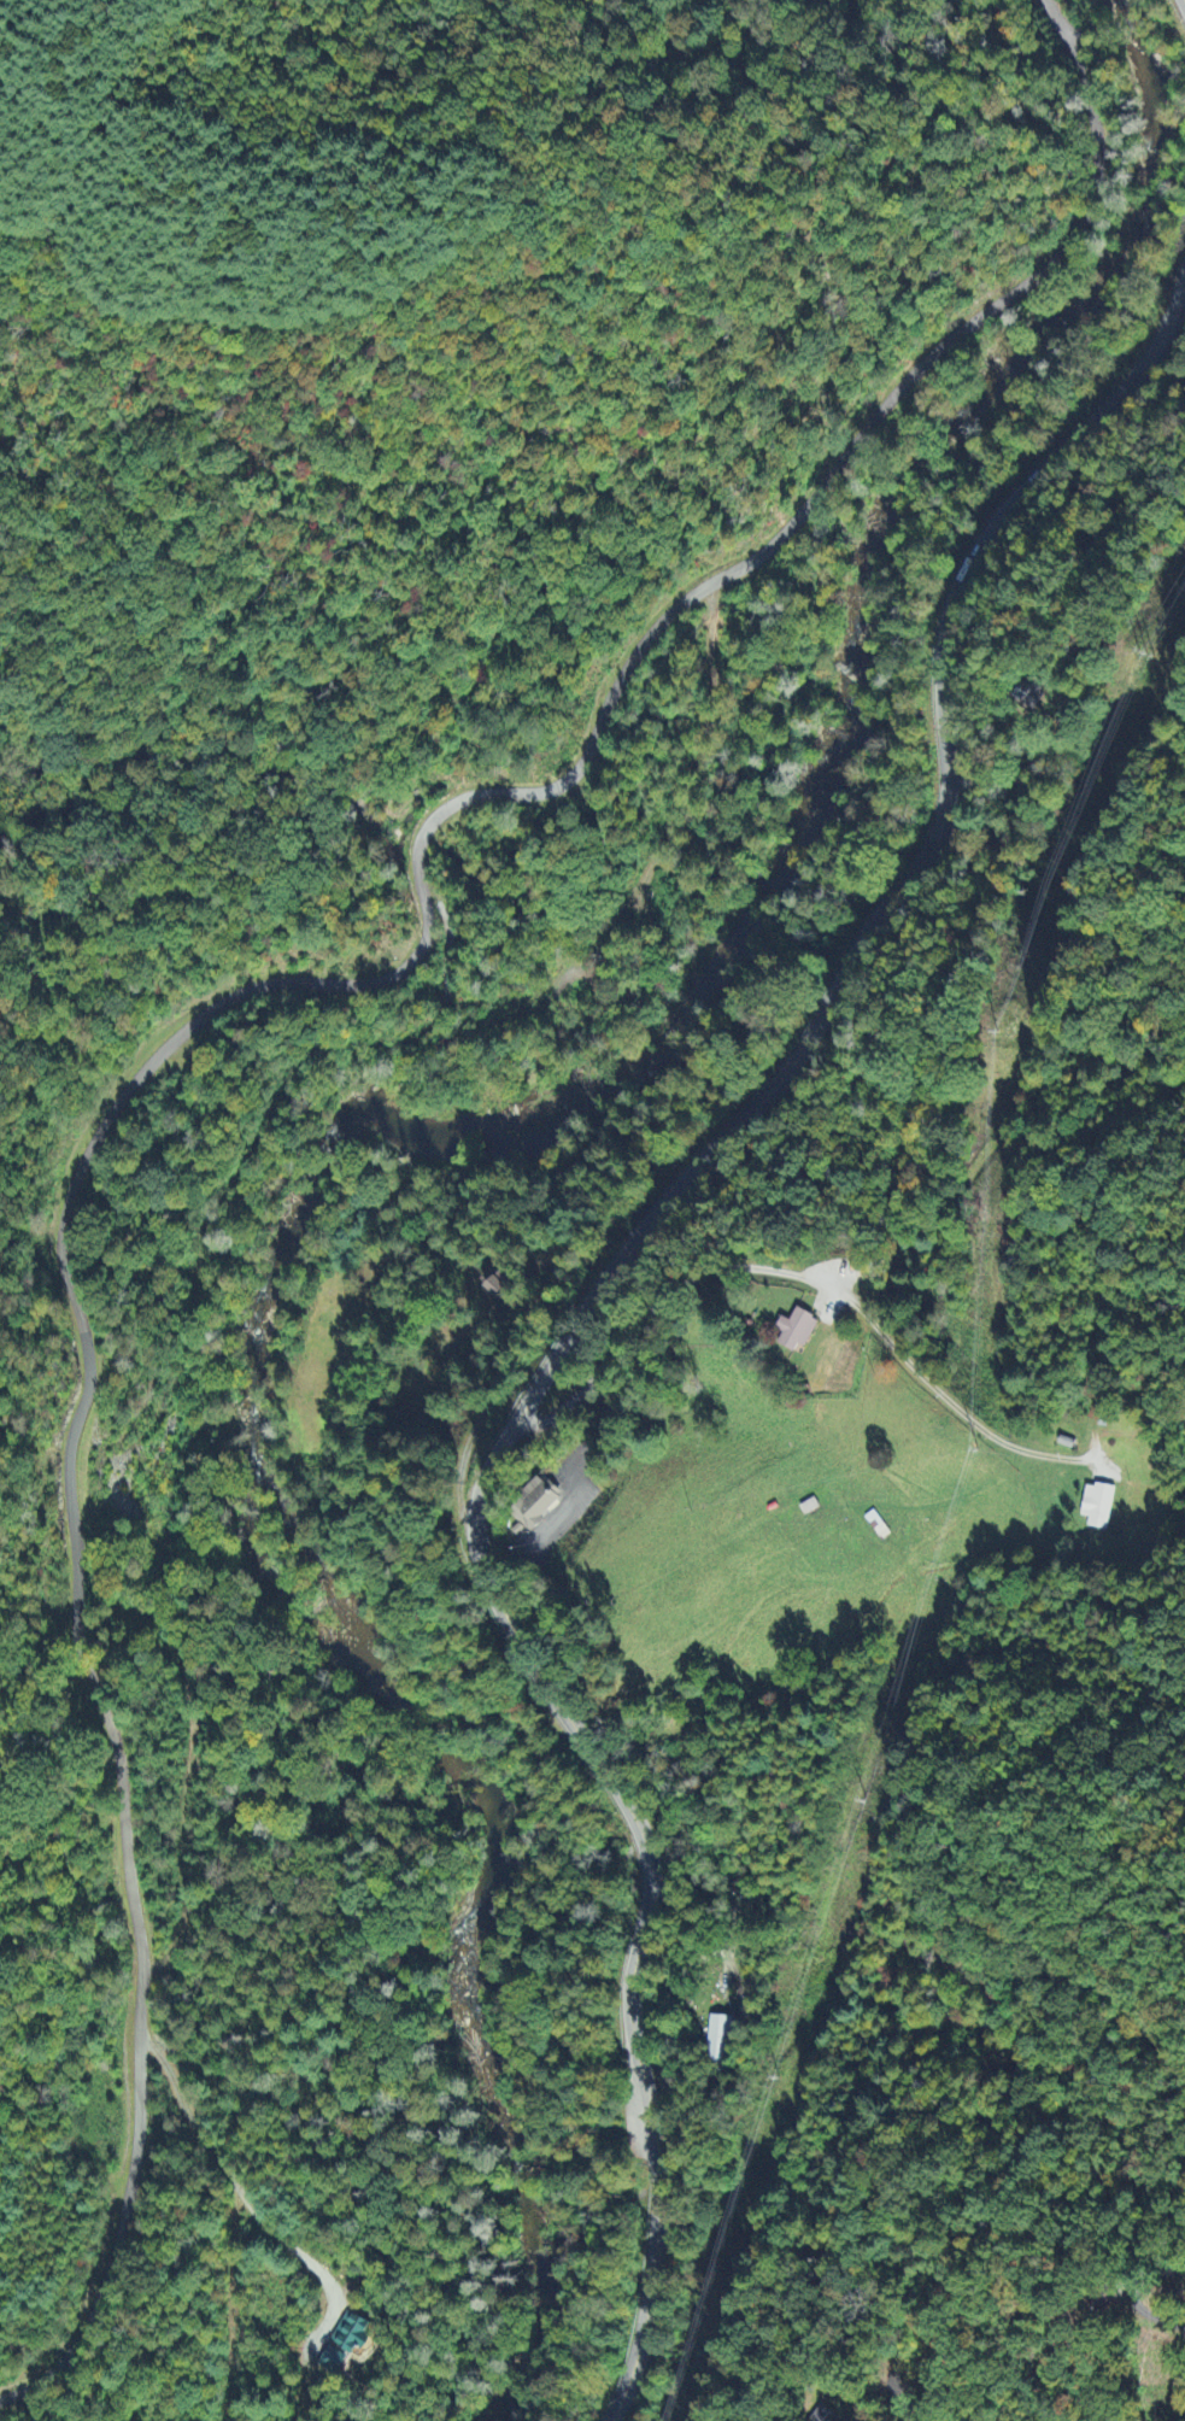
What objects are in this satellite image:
road: (1184, 0)
road: (849, 456)
river: (937, 475)
road: (424, 828)
road: (776, 1272)
building: (499, 1286)
road: (592, 1297)
building: (794, 1333)
building: (533, 1506)
building: (1097, 1507)
road: (72, 1547)
river: (344, 1590)
road: (674, 1997)
building: (717, 2036)
road: (1138, 2291)
building: (354, 2334)

